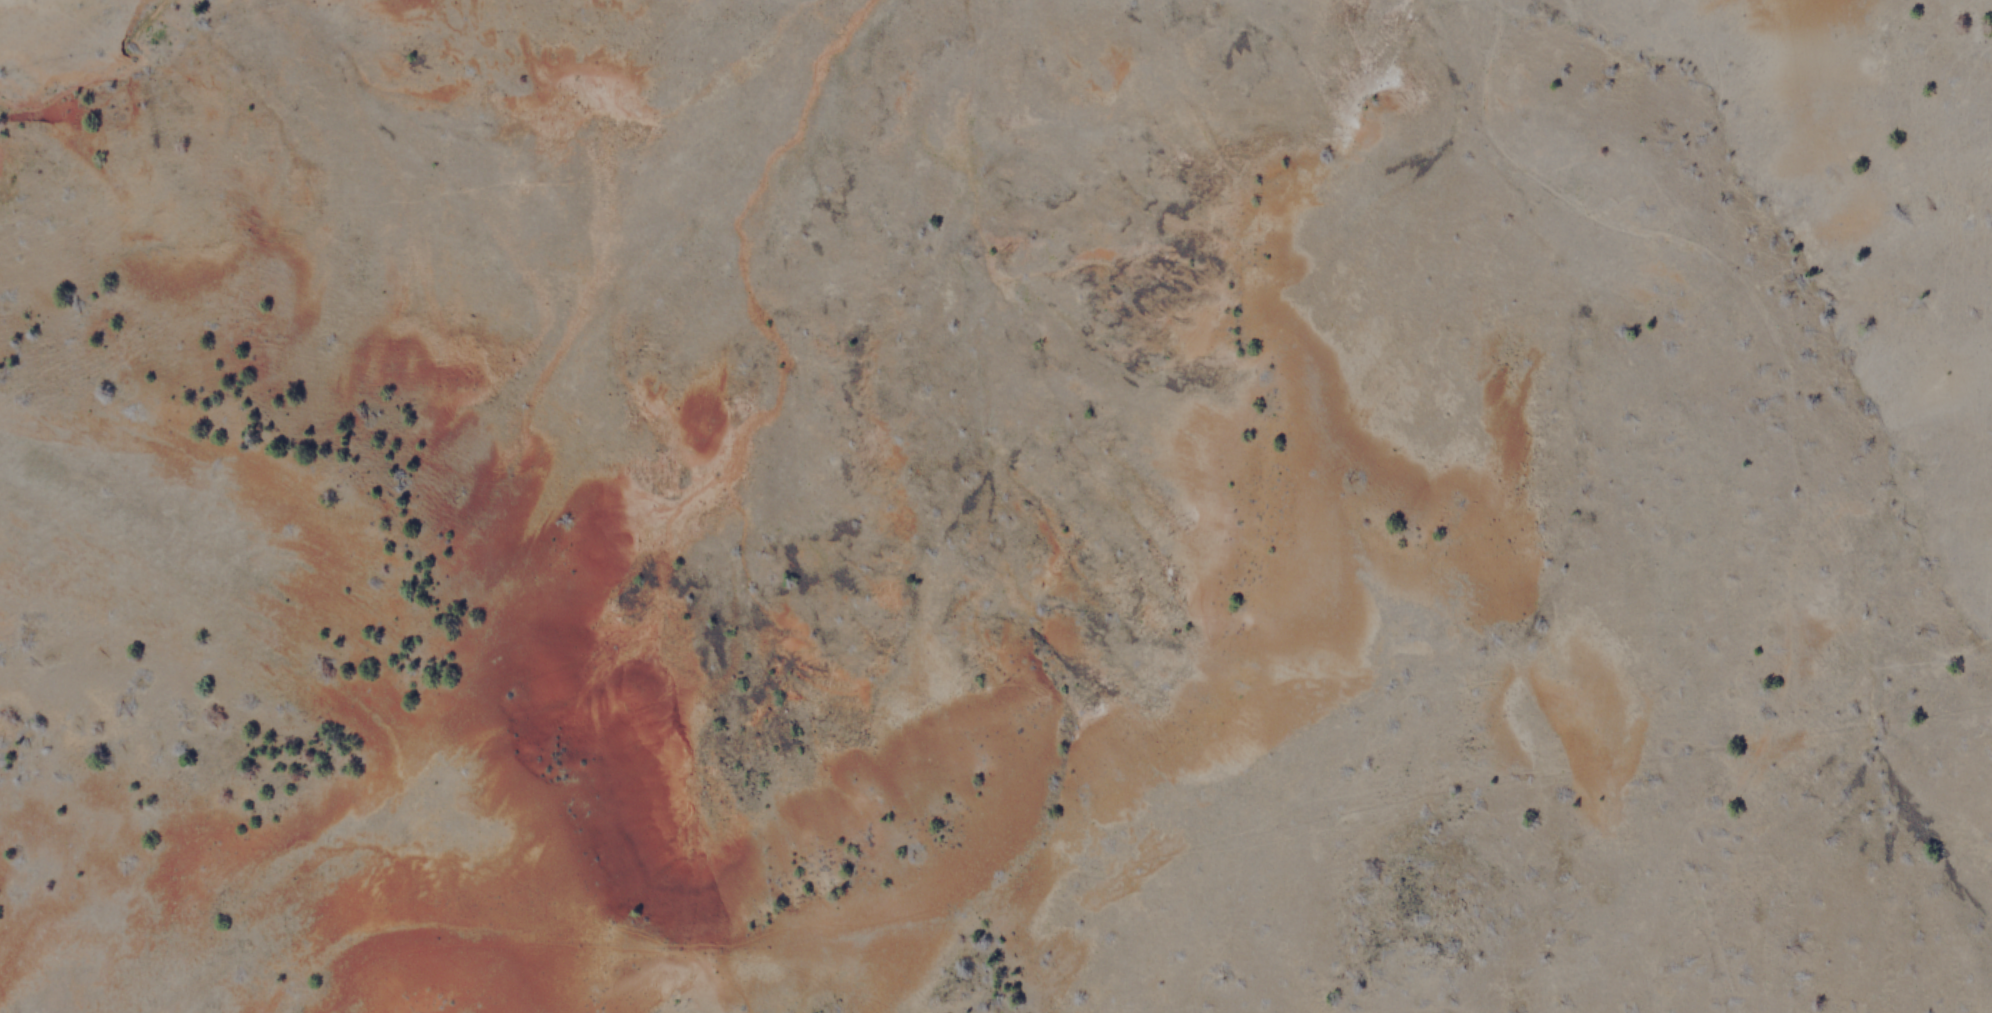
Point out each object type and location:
road: (611, 949)

